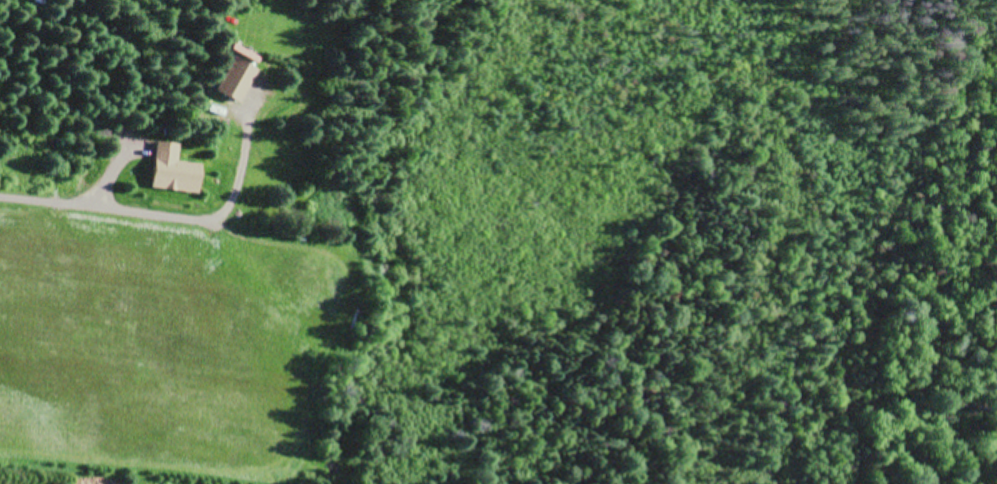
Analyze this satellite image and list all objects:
building: (236, 78)

